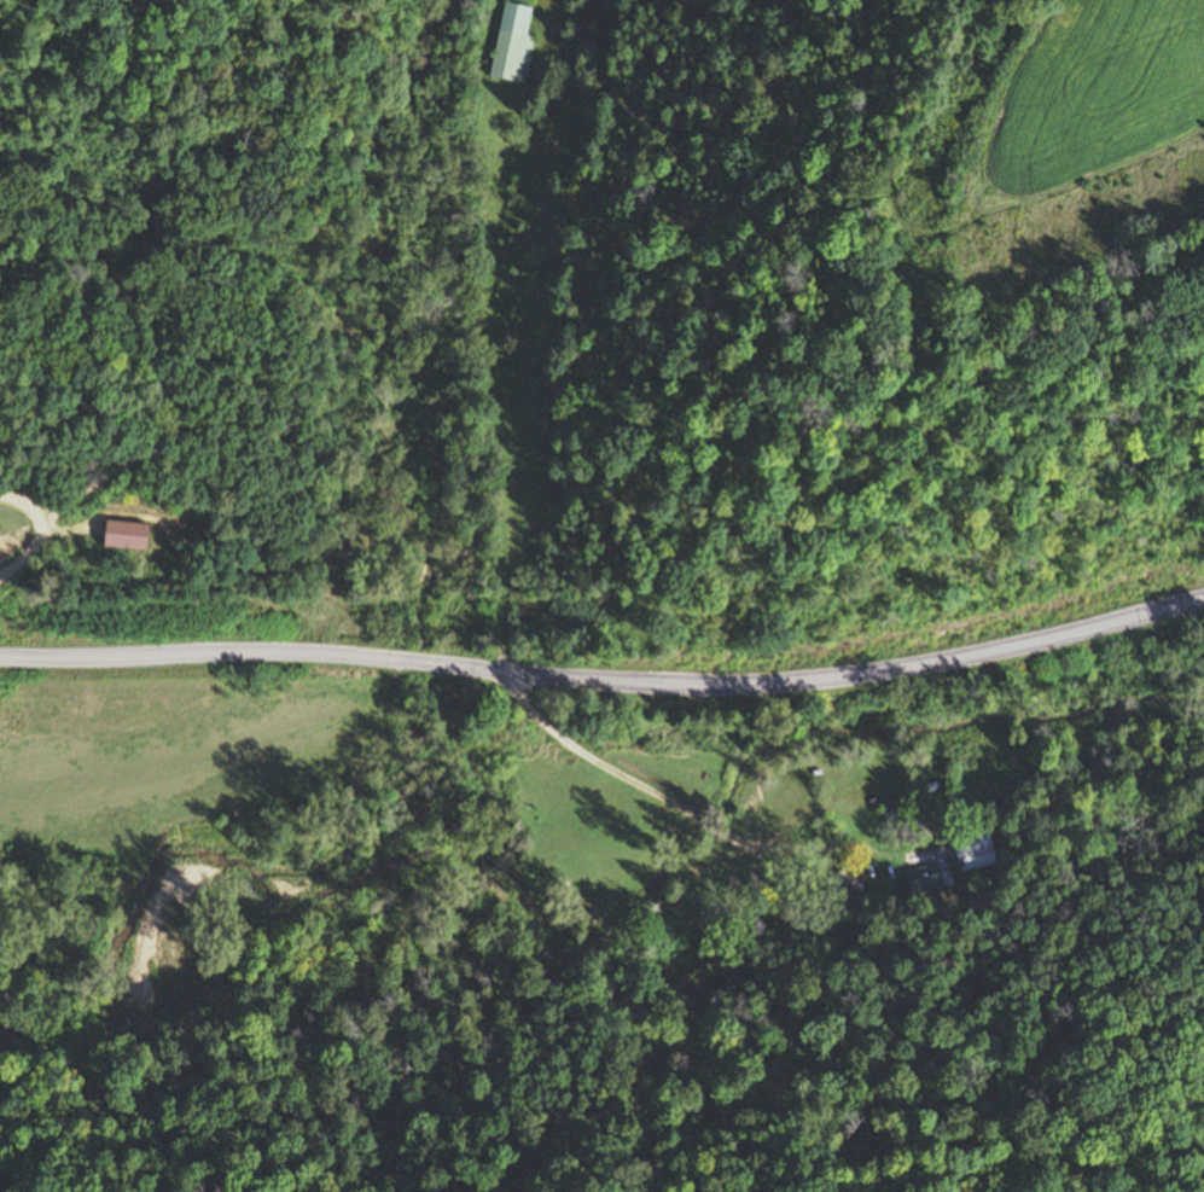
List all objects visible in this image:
building: (512, 46)
road: (39, 525)
road: (605, 687)
building: (972, 848)
building: (843, 878)
building: (924, 882)

